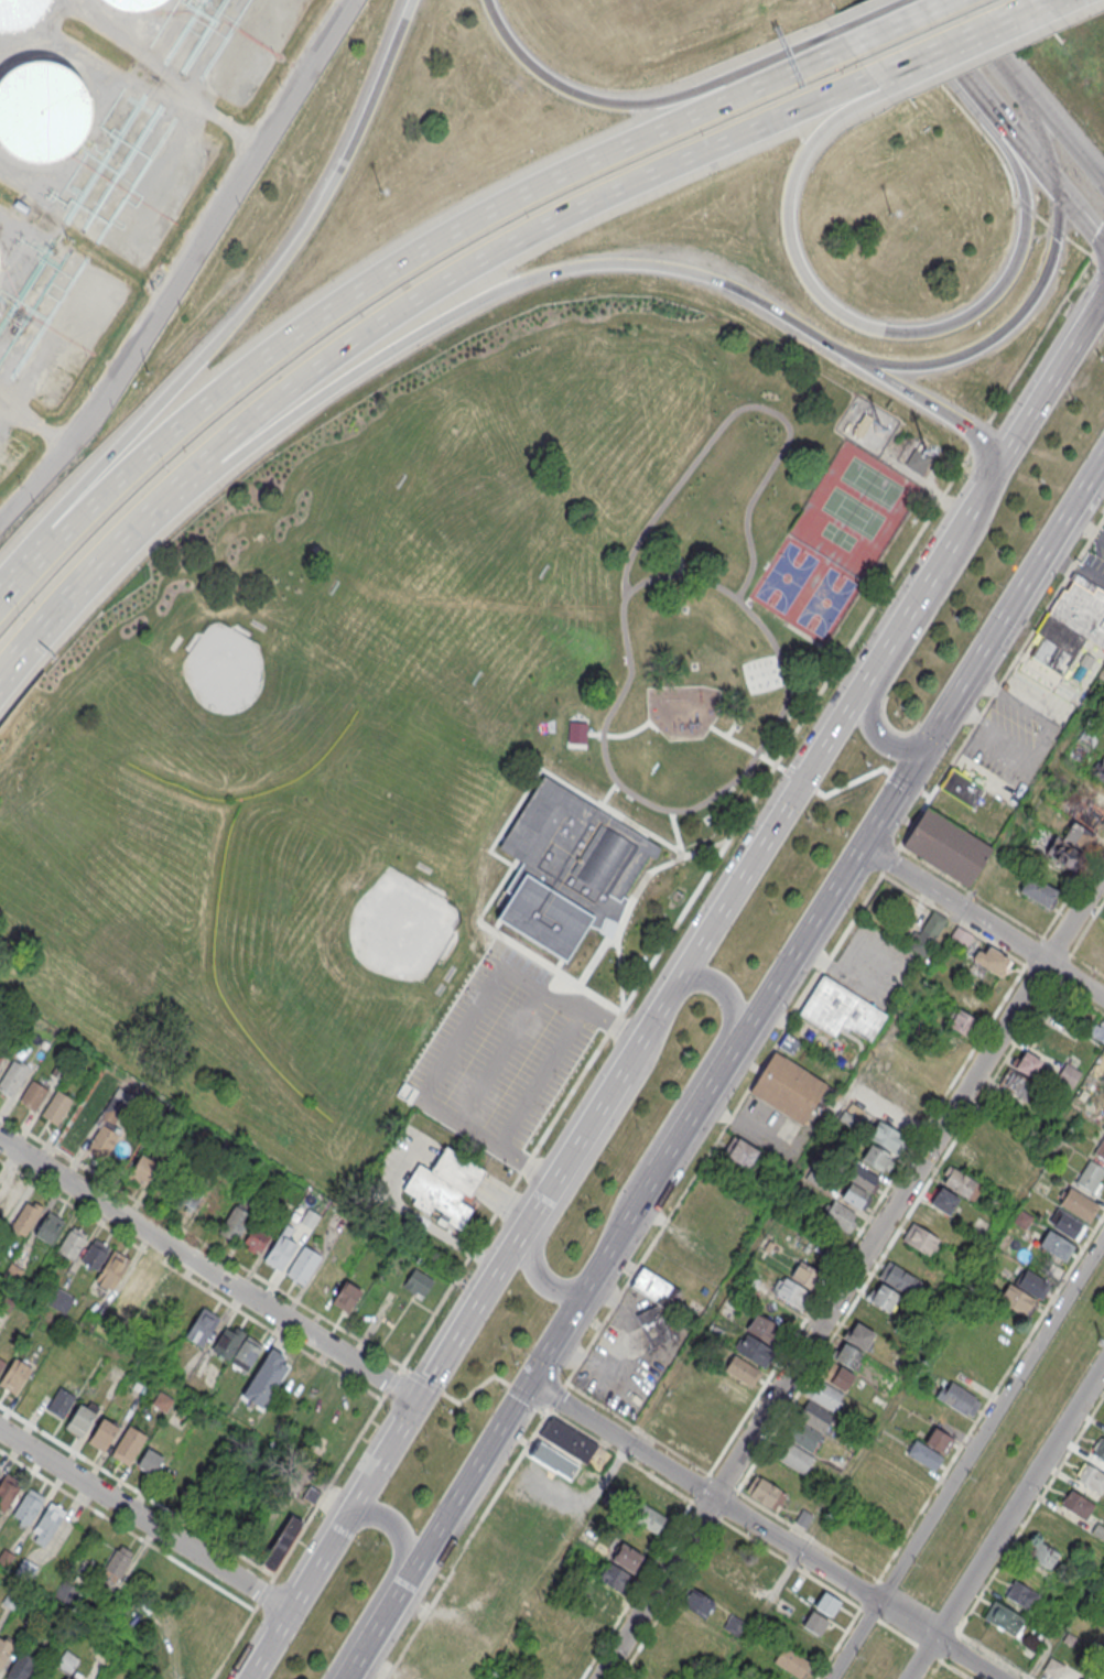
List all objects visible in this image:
building: (134, 4)
storage tank: (134, 4)
road: (1042, 4)
building: (20, 13)
storage tank: (20, 13)
road: (892, 19)
road: (930, 39)
road: (981, 39)
road: (955, 43)
road: (778, 54)
road: (1022, 89)
road: (578, 90)
building: (42, 116)
storage tank: (42, 116)
road: (1007, 127)
road: (1069, 138)
road: (1042, 139)
traffic signals: (1053, 177)
road: (1061, 187)
road: (215, 213)
road: (1086, 219)
road: (526, 239)
road: (389, 272)
road: (520, 284)
road: (241, 311)
road: (1008, 326)
road: (894, 329)
road: (1043, 388)
road: (933, 405)
building: (862, 426)
building: (917, 461)
road: (769, 468)
road: (42, 470)
road: (938, 492)
park: (833, 542)
park: (484, 548)
road: (1046, 562)
parking lot: (1094, 563)
road: (100, 565)
road: (923, 583)
building: (1081, 607)
road: (917, 633)
building: (1056, 643)
road: (833, 648)
road: (1002, 681)
road: (960, 695)
building: (1103, 702)
park: (236, 721)
park: (446, 734)
traffic signals: (931, 737)
building: (1089, 737)
parking lot: (1013, 739)
building: (1079, 752)
building: (1098, 770)
traffic signals: (801, 780)
building: (961, 787)
building: (1096, 795)
road: (836, 808)
building: (1087, 815)
road: (640, 828)
building: (1078, 835)
building: (945, 846)
road: (754, 855)
road: (889, 860)
road: (665, 862)
building: (567, 874)
building: (1037, 890)
road: (971, 891)
road: (954, 903)
road: (1074, 913)
park: (113, 914)
road: (615, 921)
building: (613, 925)
building: (926, 933)
road: (613, 935)
building: (960, 939)
park: (317, 947)
road: (654, 956)
road: (594, 961)
building: (994, 961)
road: (619, 973)
road: (1074, 979)
road: (574, 993)
building: (975, 1004)
road: (582, 1006)
building: (841, 1010)
building: (964, 1023)
building: (1095, 1030)
road: (483, 1039)
building: (789, 1043)
parking lot: (505, 1052)
building: (0, 1059)
road: (730, 1059)
road: (523, 1064)
building: (1028, 1065)
building: (58, 1069)
building: (1068, 1075)
building: (12, 1076)
building: (790, 1087)
road: (688, 1088)
building: (1016, 1088)
building: (32, 1094)
building: (56, 1106)
building: (898, 1115)
building: (106, 1127)
road: (724, 1127)
road: (584, 1128)
building: (887, 1136)
building: (993, 1136)
road: (496, 1142)
building: (1101, 1149)
building: (739, 1151)
building: (224, 1152)
building: (879, 1158)
building: (966, 1159)
building: (141, 1170)
building: (1091, 1177)
road: (792, 1178)
building: (864, 1178)
building: (962, 1183)
building: (443, 1184)
building: (187, 1195)
building: (292, 1195)
building: (855, 1195)
building: (945, 1202)
building: (1080, 1205)
building: (838, 1215)
building: (25, 1216)
building: (309, 1217)
building: (932, 1220)
building: (234, 1221)
building: (1065, 1225)
building: (48, 1228)
building: (259, 1235)
building: (360, 1239)
building: (920, 1239)
building: (814, 1242)
building: (72, 1243)
building: (1057, 1247)
road: (221, 1250)
building: (279, 1250)
building: (95, 1253)
building: (303, 1265)
building: (111, 1269)
road: (206, 1270)
building: (12, 1271)
building: (326, 1276)
building: (805, 1276)
building: (898, 1278)
building: (748, 1280)
road: (539, 1281)
building: (416, 1282)
building: (32, 1283)
building: (136, 1283)
building: (1032, 1285)
building: (656, 1287)
building: (790, 1292)
building: (346, 1295)
building: (885, 1298)
building: (61, 1300)
building: (1016, 1300)
building: (4, 1302)
building: (88, 1319)
road: (822, 1319)
building: (202, 1325)
building: (653, 1325)
building: (861, 1337)
building: (757, 1339)
building: (227, 1341)
power tower: (1097, 1341)
building: (246, 1353)
building: (849, 1355)
building: (1, 1364)
building: (740, 1369)
building: (15, 1372)
building: (837, 1376)
building: (264, 1378)
building: (293, 1380)
traffic signals: (531, 1383)
road: (476, 1387)
road: (516, 1388)
building: (823, 1395)
traffic signals: (414, 1399)
building: (960, 1399)
building: (61, 1401)
building: (162, 1401)
building: (815, 1417)
building: (79, 1419)
building: (656, 1426)
building: (704, 1427)
building: (102, 1433)
building: (802, 1437)
building: (567, 1439)
building: (129, 1444)
building: (691, 1447)
building: (929, 1447)
building: (1100, 1449)
road: (383, 1450)
road: (966, 1458)
building: (553, 1459)
building: (795, 1459)
building: (150, 1461)
building: (0, 1470)
building: (1091, 1477)
road: (466, 1484)
building: (8, 1490)
building: (766, 1492)
building: (311, 1494)
building: (29, 1504)
building: (1078, 1504)
building: (647, 1518)
road: (143, 1519)
building: (802, 1519)
road: (1005, 1519)
building: (46, 1521)
building: (1061, 1529)
road: (764, 1530)
building: (281, 1542)
building: (1043, 1555)
building: (4, 1557)
building: (117, 1562)
building: (724, 1564)
building: (25, 1569)
building: (615, 1580)
road: (386, 1581)
building: (66, 1591)
building: (1021, 1594)
building: (10, 1599)
building: (696, 1602)
building: (827, 1605)
building: (1004, 1617)
road: (1067, 1617)
building: (815, 1625)
road: (375, 1633)
building: (6, 1649)
building: (101, 1649)
building: (66, 1661)
building: (791, 1662)
building: (19, 1666)
building: (1053, 1667)
road: (248, 1677)
building: (1086, 1677)
building: (66, 1678)

